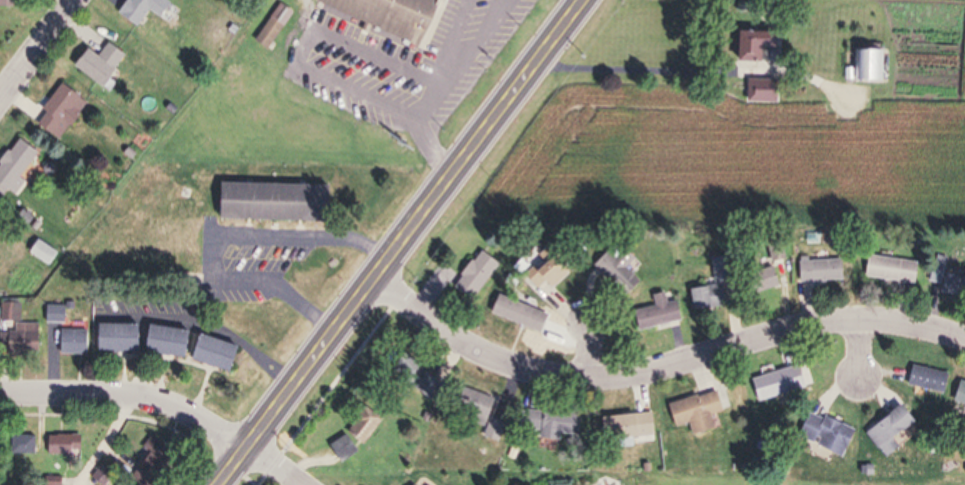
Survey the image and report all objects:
building: (14, 3)
building: (138, 10)
building: (384, 15)
building: (270, 27)
road: (36, 48)
building: (745, 48)
building: (108, 63)
building: (865, 67)
road: (425, 89)
building: (759, 92)
building: (66, 112)
crop: (721, 155)
building: (21, 161)
building: (269, 204)
road: (220, 235)
road: (404, 242)
building: (49, 253)
building: (616, 270)
building: (889, 270)
building: (818, 271)
building: (544, 274)
building: (472, 277)
building: (758, 282)
building: (946, 282)
building: (706, 298)
building: (60, 313)
building: (656, 314)
building: (517, 316)
building: (24, 341)
building: (78, 342)
road: (582, 346)
road: (860, 349)
road: (662, 369)
building: (411, 375)
building: (925, 380)
building: (776, 384)
road: (133, 392)
building: (959, 394)
building: (470, 408)
building: (693, 413)
building: (551, 425)
building: (626, 427)
building: (493, 431)
building: (887, 431)
building: (828, 434)
building: (353, 435)
road: (104, 441)
building: (25, 445)
building: (68, 446)
building: (160, 463)
road: (276, 467)
building: (106, 475)

